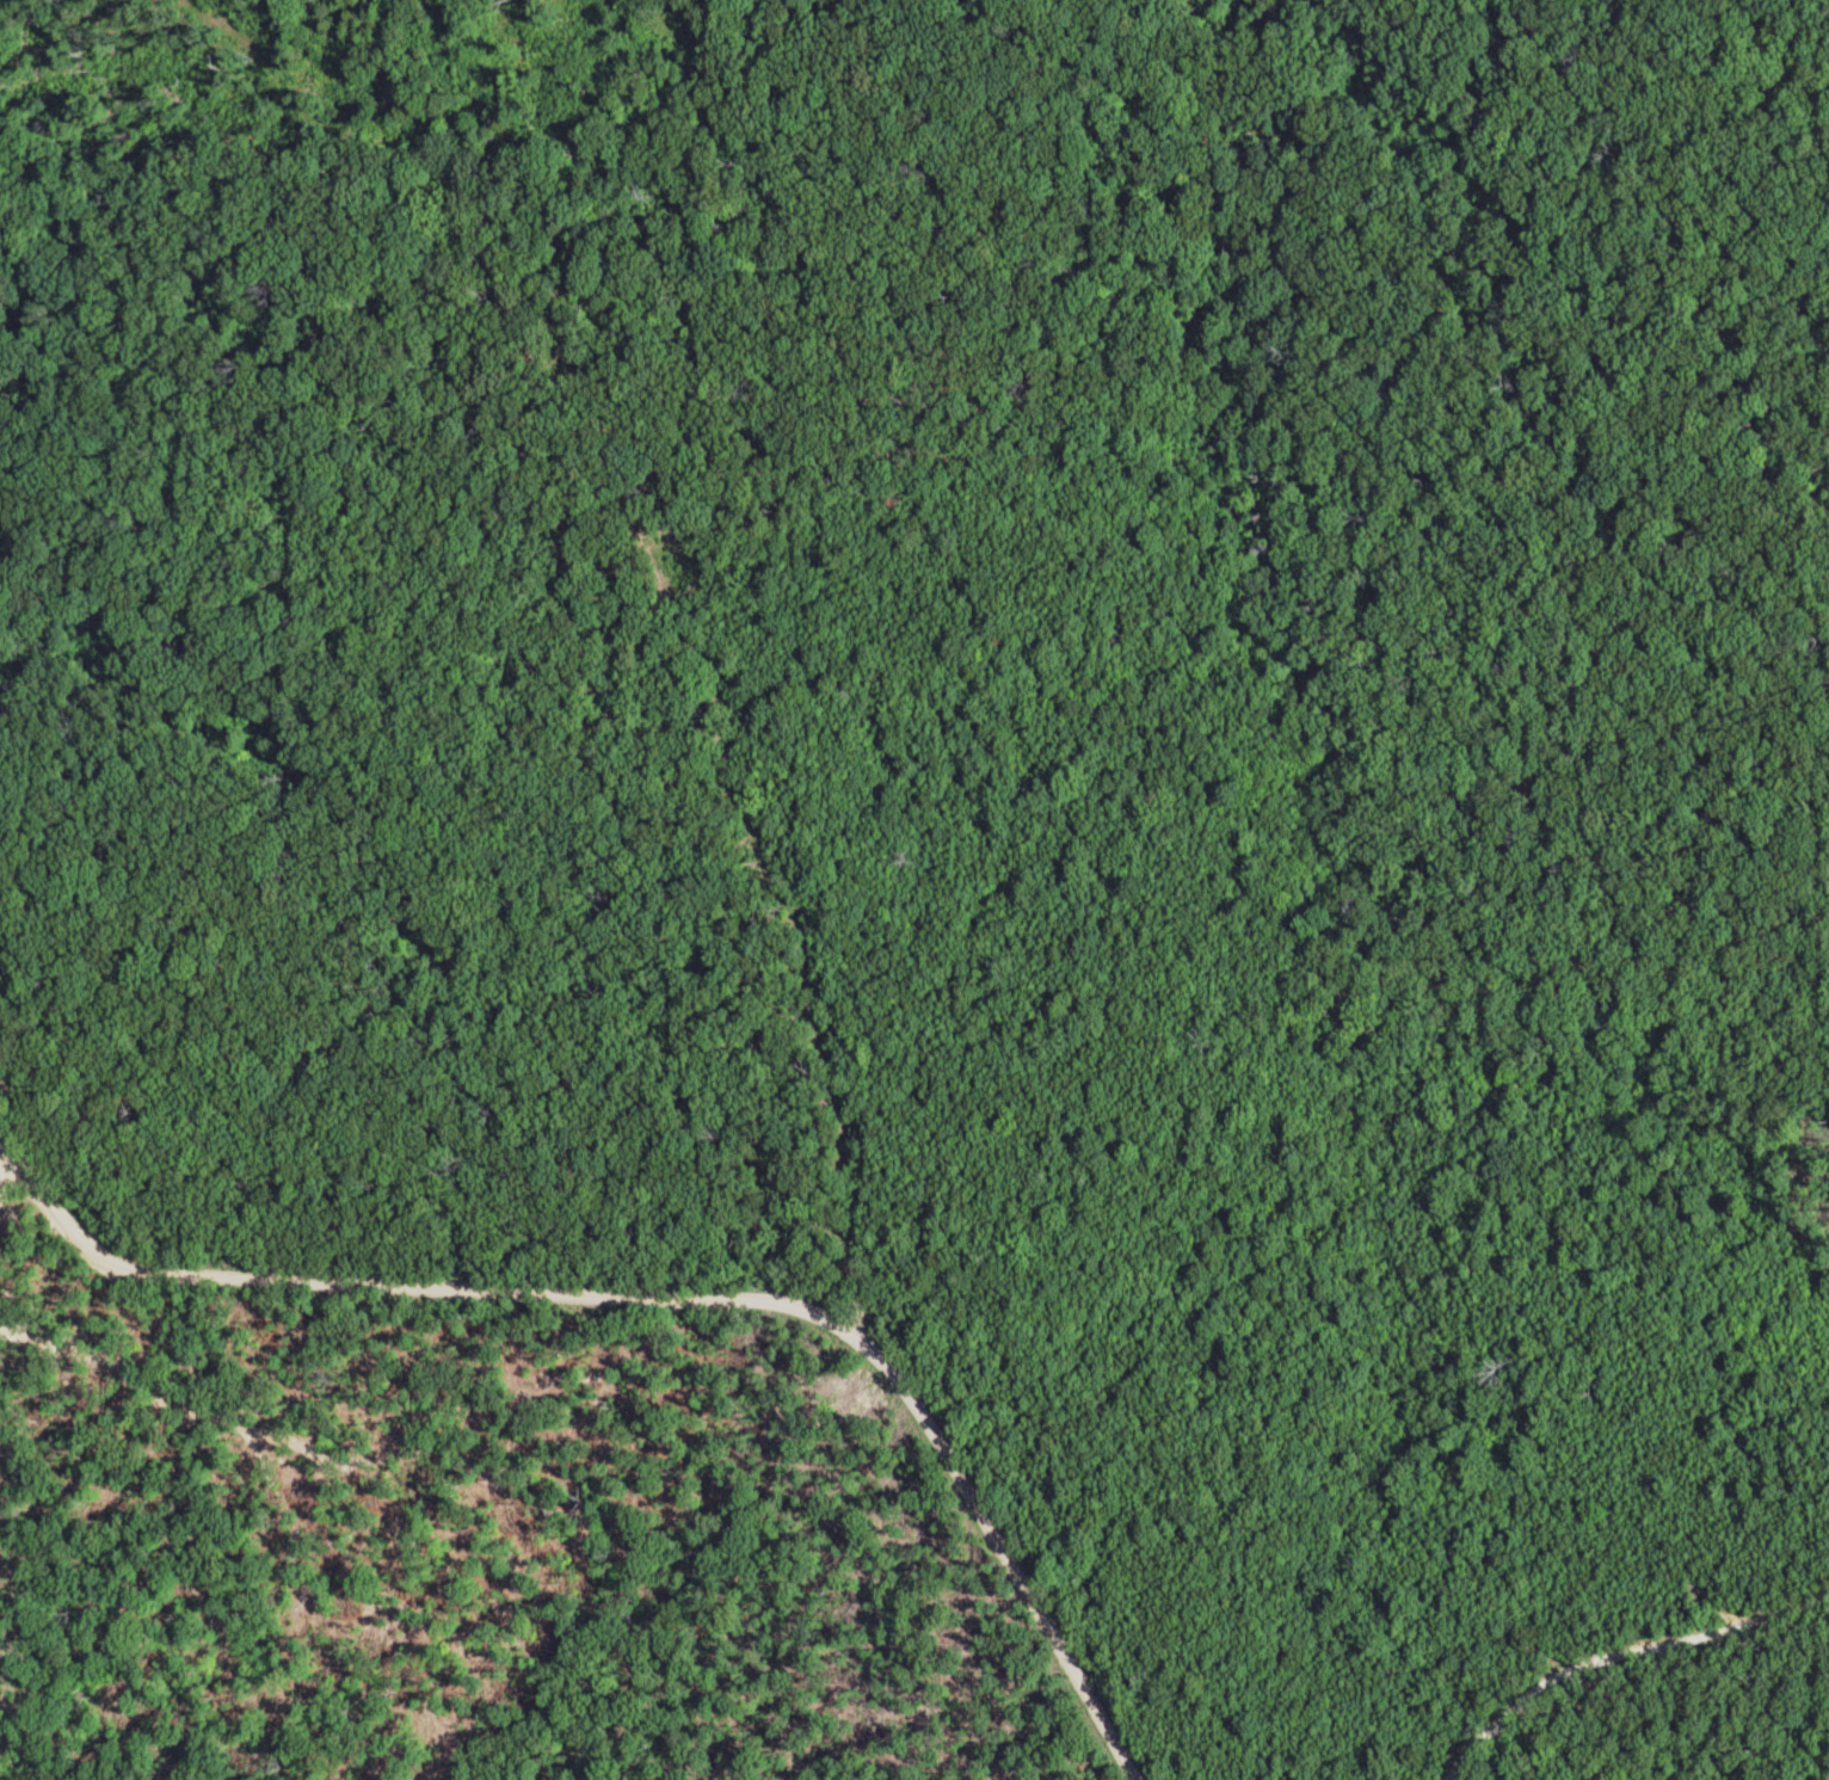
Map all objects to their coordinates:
road: (661, 1293)
road: (1621, 1653)

